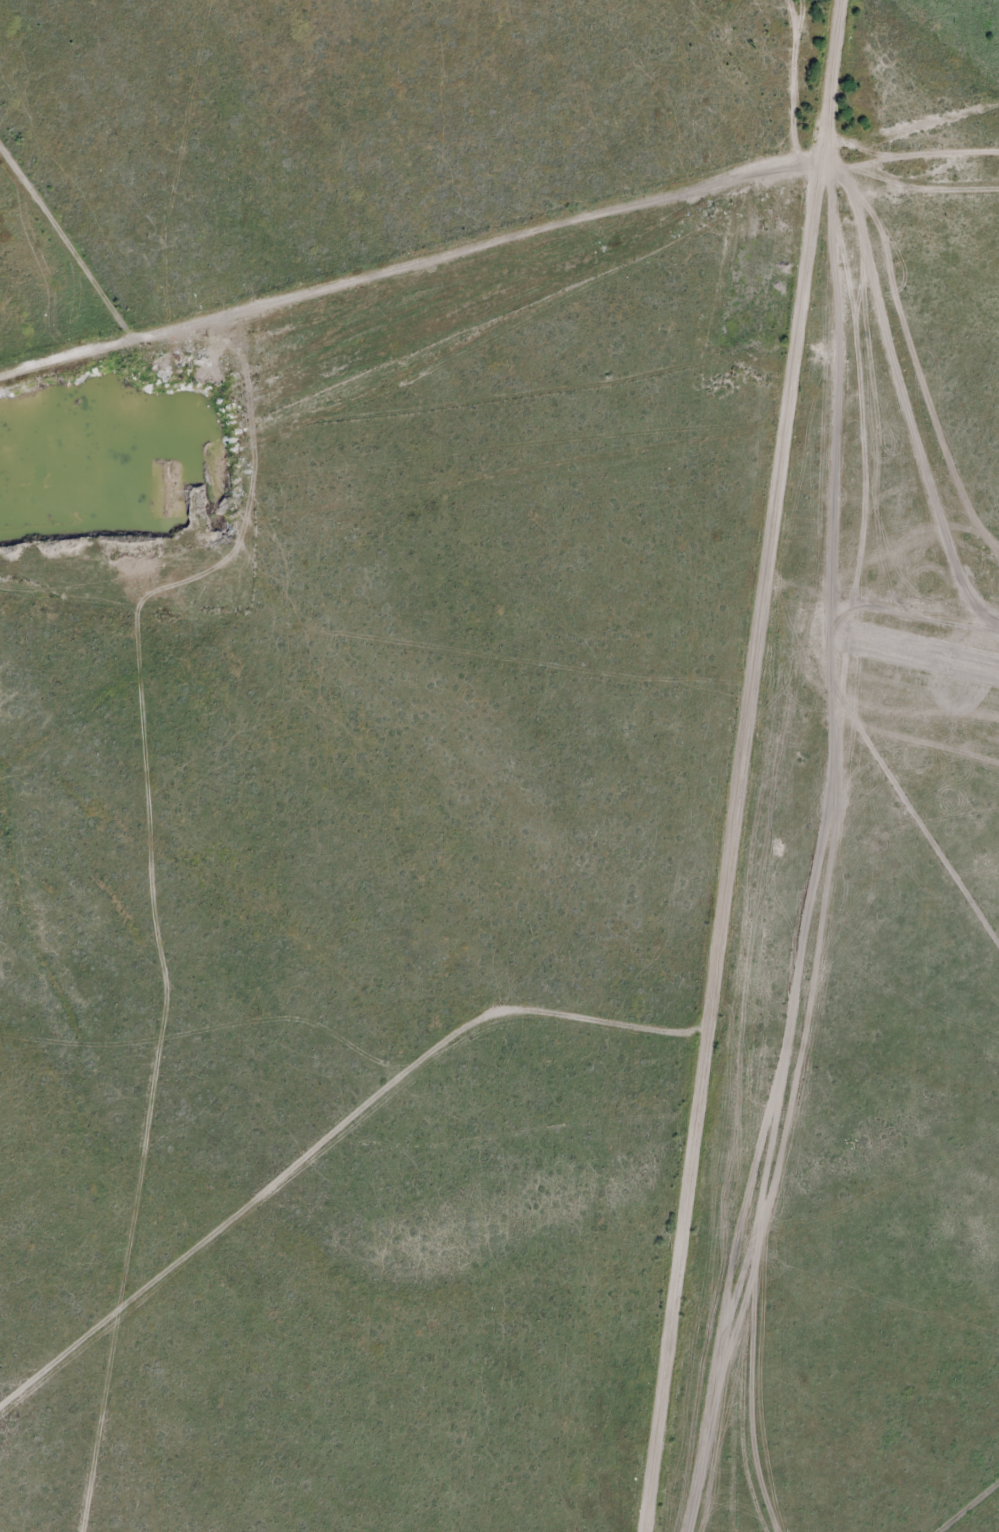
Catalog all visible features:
road: (912, 148)

